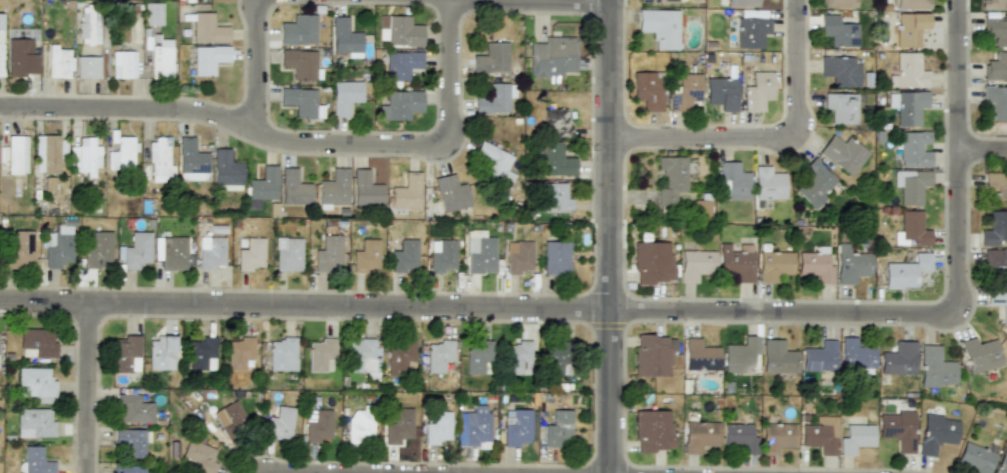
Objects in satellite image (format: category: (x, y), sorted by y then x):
building: (655, 1)
building: (741, 3)
building: (837, 3)
road: (539, 4)
building: (911, 4)
building: (994, 5)
road: (796, 6)
road: (959, 7)
building: (153, 14)
building: (660, 27)
building: (909, 28)
building: (207, 29)
building: (996, 29)
building: (298, 30)
building: (399, 31)
building: (838, 31)
building: (751, 32)
building: (21, 58)
building: (492, 58)
building: (208, 59)
building: (1, 60)
building: (161, 60)
building: (58, 62)
building: (299, 63)
building: (122, 65)
building: (401, 65)
building: (87, 67)
building: (996, 67)
road: (257, 68)
building: (839, 70)
building: (909, 71)
building: (647, 91)
building: (757, 91)
building: (685, 92)
building: (721, 93)
building: (345, 96)
building: (494, 98)
building: (301, 102)
building: (996, 102)
building: (400, 105)
building: (907, 106)
building: (840, 107)
building: (556, 122)
road: (766, 142)
road: (296, 146)
building: (913, 149)
road: (983, 152)
building: (46, 153)
building: (13, 154)
building: (121, 154)
building: (842, 154)
building: (84, 156)
building: (159, 160)
building: (556, 160)
building: (190, 161)
building: (494, 162)
building: (226, 170)
building: (673, 178)
building: (732, 182)
building: (767, 184)
building: (812, 184)
building: (910, 185)
building: (996, 186)
building: (261, 187)
building: (294, 188)
building: (334, 188)
building: (365, 188)
building: (406, 192)
building: (450, 193)
building: (556, 198)
building: (995, 228)
building: (911, 229)
road: (606, 236)
building: (96, 249)
building: (20, 250)
building: (135, 250)
building: (170, 252)
building: (210, 252)
building: (327, 253)
building: (250, 254)
building: (287, 254)
building: (366, 255)
building: (441, 255)
building: (404, 256)
building: (519, 257)
building: (556, 258)
building: (735, 261)
building: (652, 262)
building: (995, 262)
building: (695, 264)
building: (850, 264)
building: (773, 265)
building: (814, 266)
building: (905, 271)
building: (999, 301)
road: (631, 313)
building: (36, 343)
building: (161, 352)
building: (125, 353)
building: (201, 353)
building: (239, 353)
building: (282, 354)
building: (320, 354)
building: (980, 354)
building: (438, 355)
building: (653, 355)
building: (700, 355)
building: (739, 355)
building: (363, 356)
building: (400, 356)
building: (477, 356)
building: (855, 356)
building: (518, 357)
building: (777, 357)
building: (819, 357)
building: (561, 358)
building: (898, 359)
building: (935, 368)
building: (36, 384)
road: (85, 388)
building: (133, 409)
building: (231, 420)
building: (34, 423)
building: (280, 424)
building: (398, 425)
building: (318, 426)
building: (360, 426)
building: (473, 426)
building: (516, 427)
building: (438, 428)
building: (558, 429)
building: (898, 429)
building: (653, 430)
building: (936, 433)
building: (820, 434)
building: (699, 436)
building: (740, 437)
building: (777, 437)
building: (856, 438)
building: (130, 442)
building: (200, 456)
building: (975, 458)
building: (36, 461)
building: (1001, 462)
building: (128, 469)

